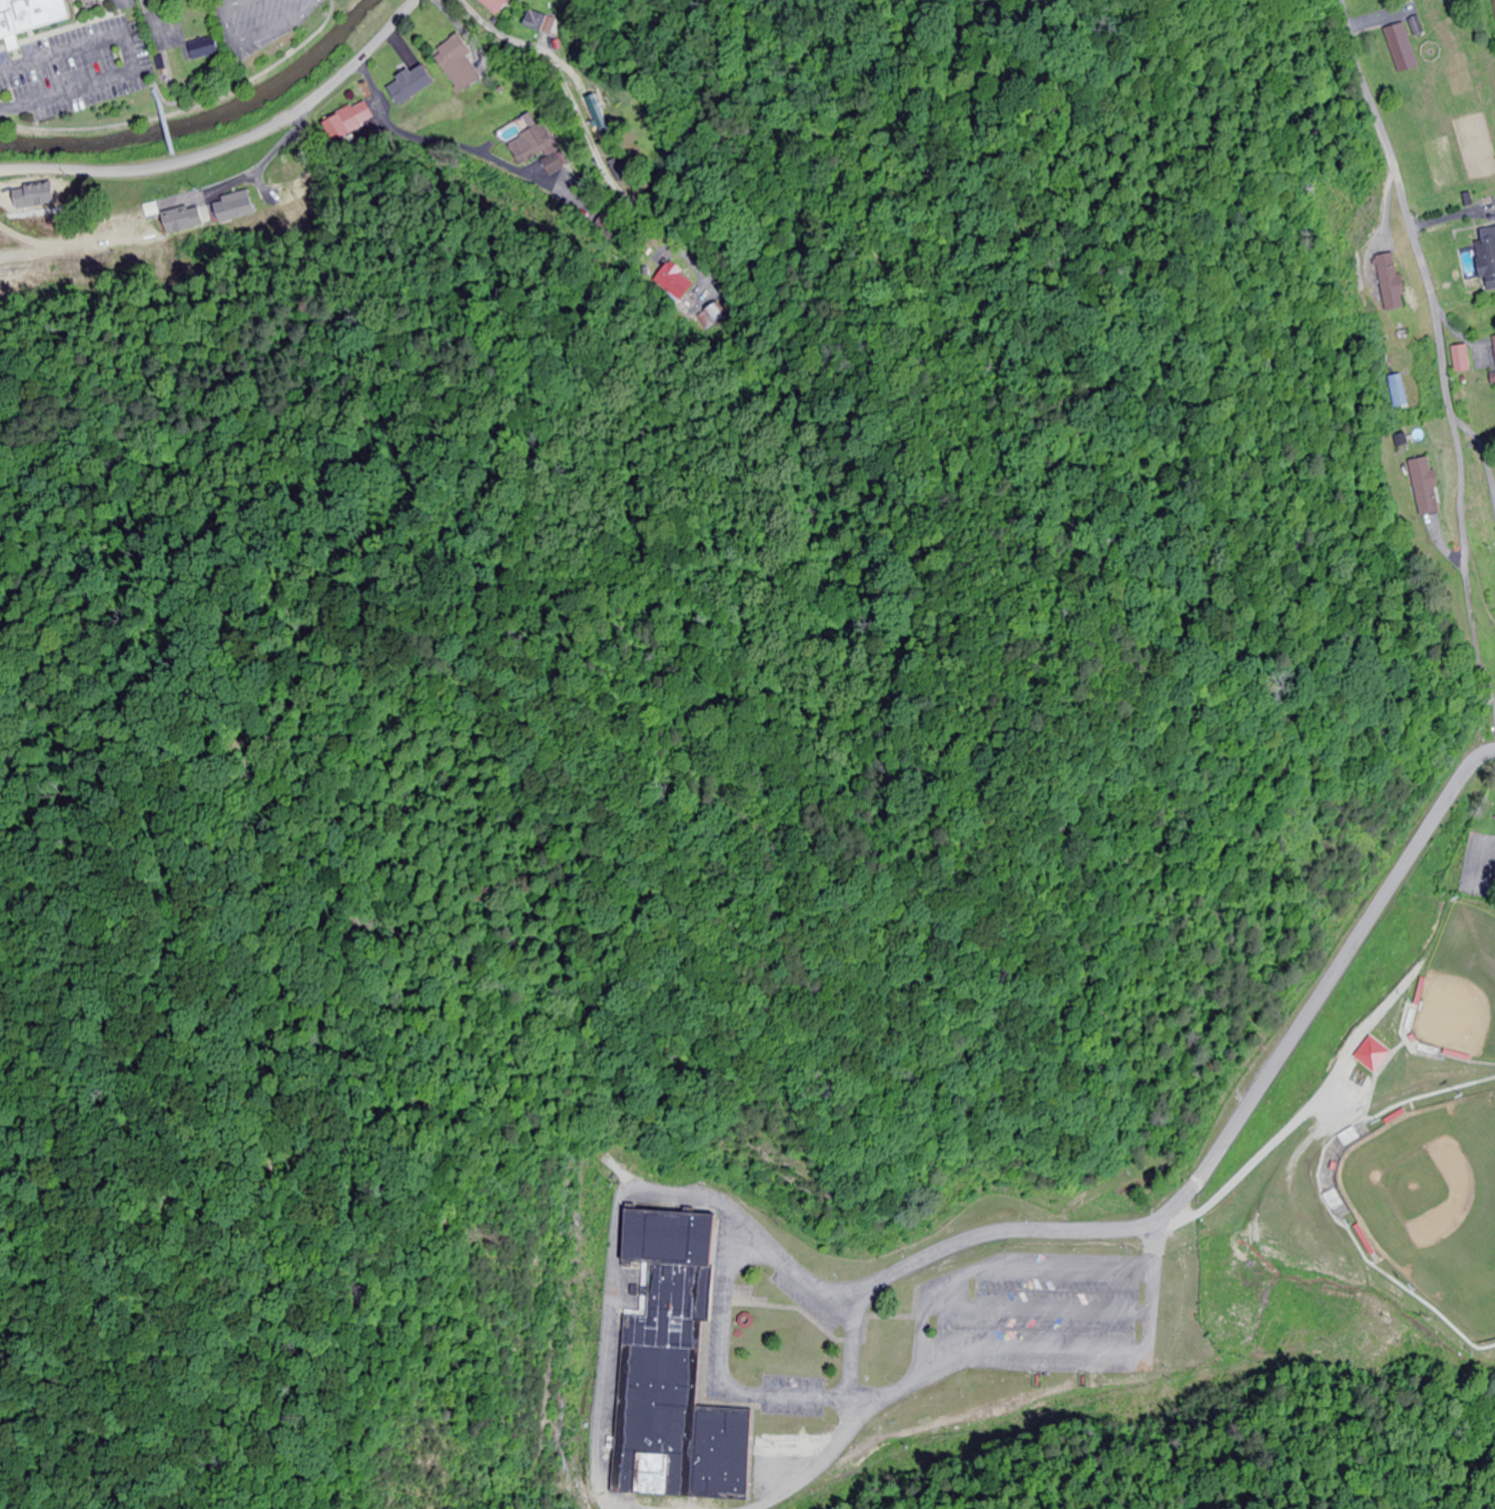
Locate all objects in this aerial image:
building: (125, 4)
building: (495, 5)
building: (34, 17)
road: (151, 19)
building: (542, 23)
road: (513, 33)
building: (209, 48)
building: (1402, 48)
building: (458, 63)
building: (413, 84)
road: (184, 102)
road: (187, 110)
building: (597, 116)
road: (166, 121)
building: (349, 121)
building: (531, 145)
road: (234, 148)
road: (177, 159)
building: (550, 164)
building: (618, 170)
building: (297, 180)
building: (46, 194)
building: (240, 205)
building: (191, 219)
building: (606, 225)
building: (1487, 256)
road: (1426, 281)
building: (675, 282)
building: (1391, 282)
building: (705, 316)
building: (1494, 341)
building: (1461, 360)
building: (1492, 380)
building: (1396, 391)
building: (1425, 487)
park: (1462, 996)
road: (1203, 1172)
road: (1253, 1172)
park: (1362, 1197)
park: (1435, 1211)
road: (615, 1225)
road: (999, 1234)
road: (998, 1271)
road: (1043, 1305)
road: (727, 1358)
building: (675, 1371)
road: (839, 1429)

